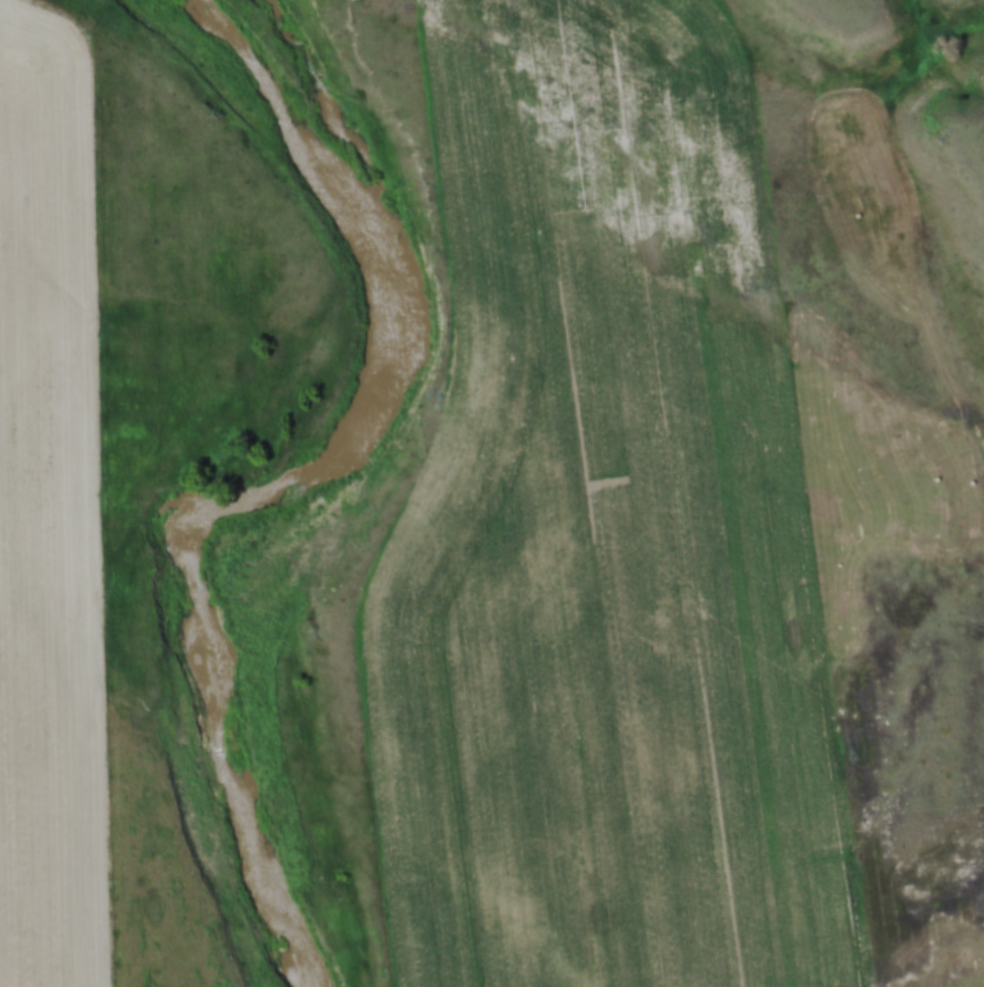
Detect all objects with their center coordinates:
river: (275, 477)

